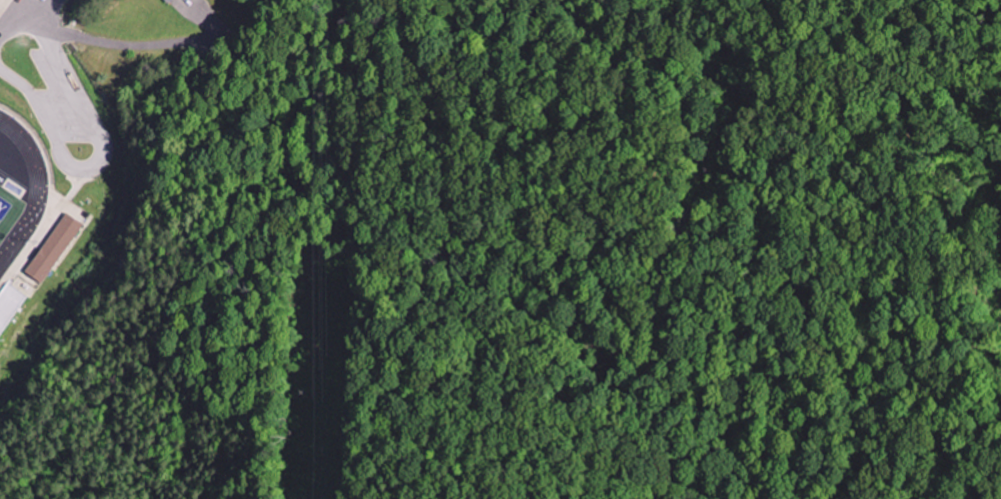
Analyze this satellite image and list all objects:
building: (165, 1)
track: (38, 192)
park: (4, 208)
building: (50, 249)
building: (7, 302)

